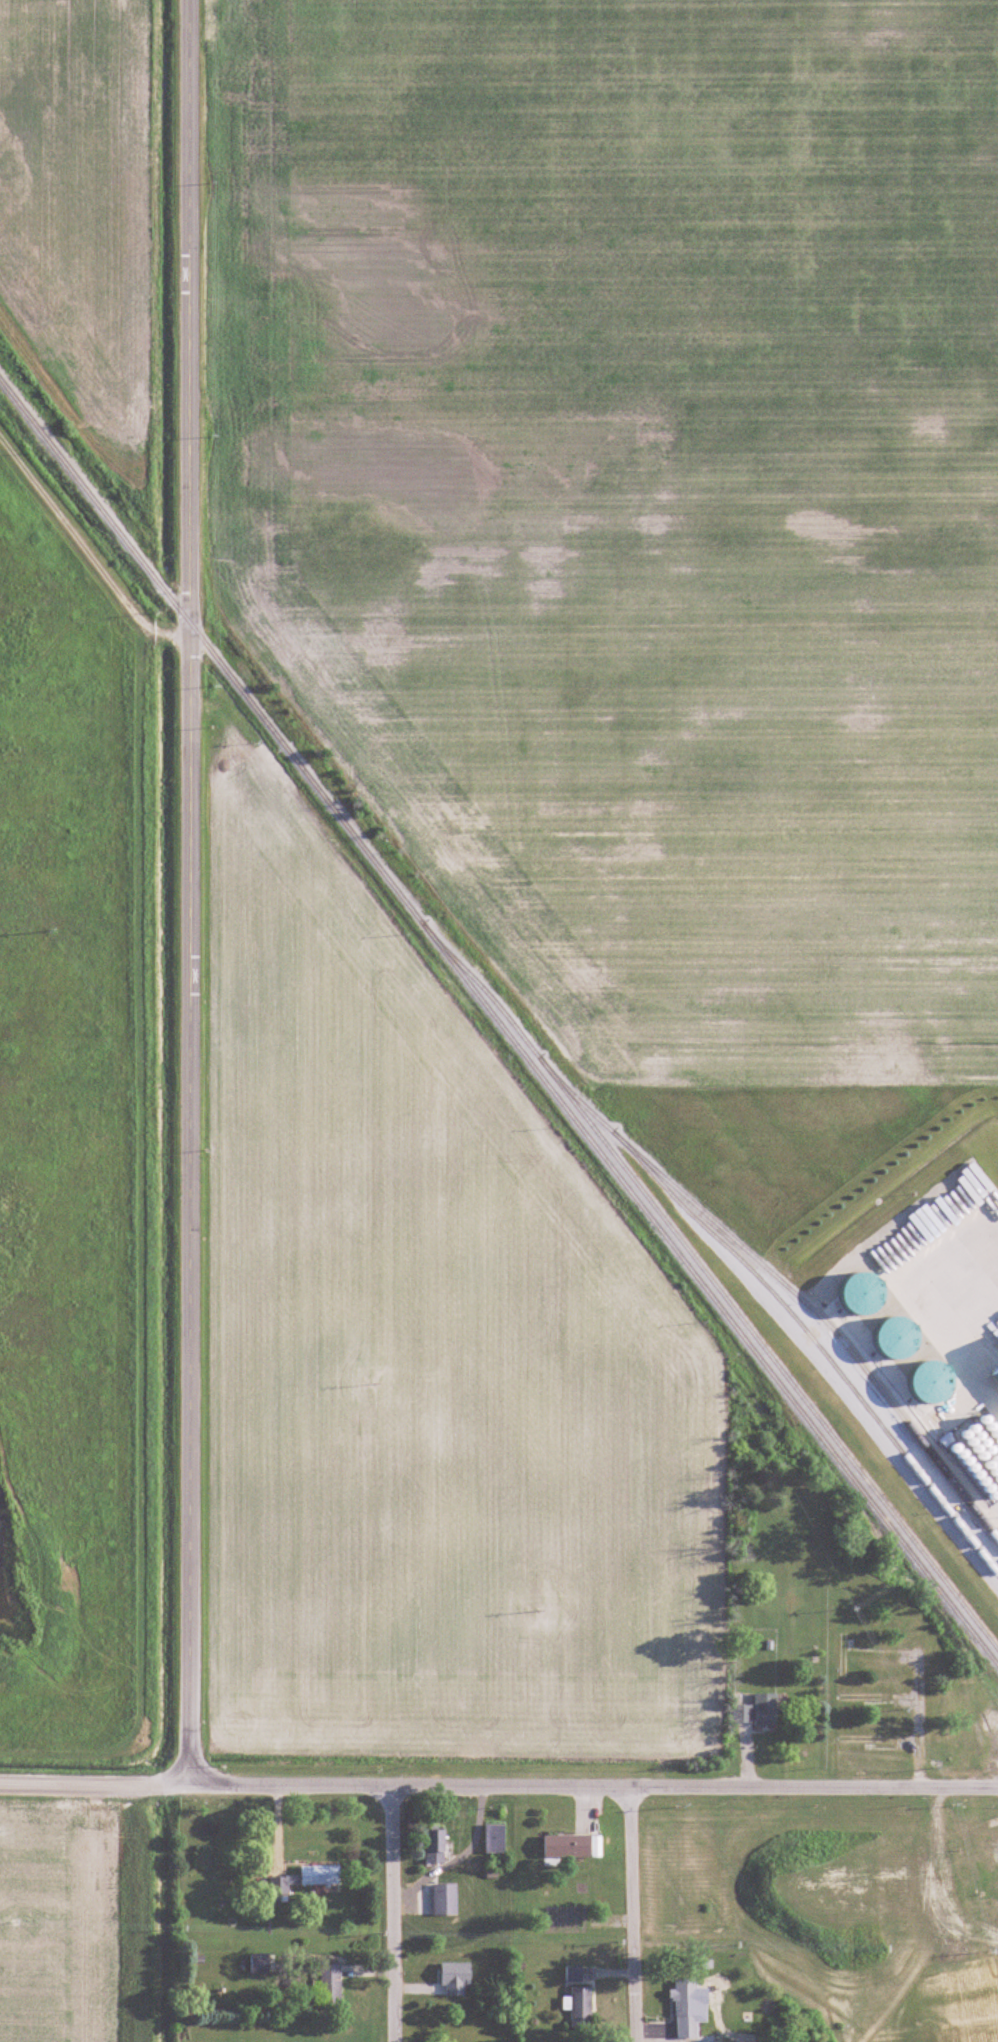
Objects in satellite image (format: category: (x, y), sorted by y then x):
road: (185, 311)
railway: (499, 1024)
road: (188, 1204)
railway: (785, 1283)
railway: (718, 1285)
building: (757, 1708)
building: (977, 1733)
road: (95, 1784)
road: (593, 1789)
building: (495, 1840)
building: (993, 1844)
building: (436, 1846)
building: (573, 1847)
building: (303, 1881)
building: (445, 1900)
road: (392, 1915)
road: (632, 1916)
building: (261, 1964)
building: (574, 1975)
building: (330, 1985)
building: (440, 2006)
building: (581, 2008)
building: (686, 2009)

